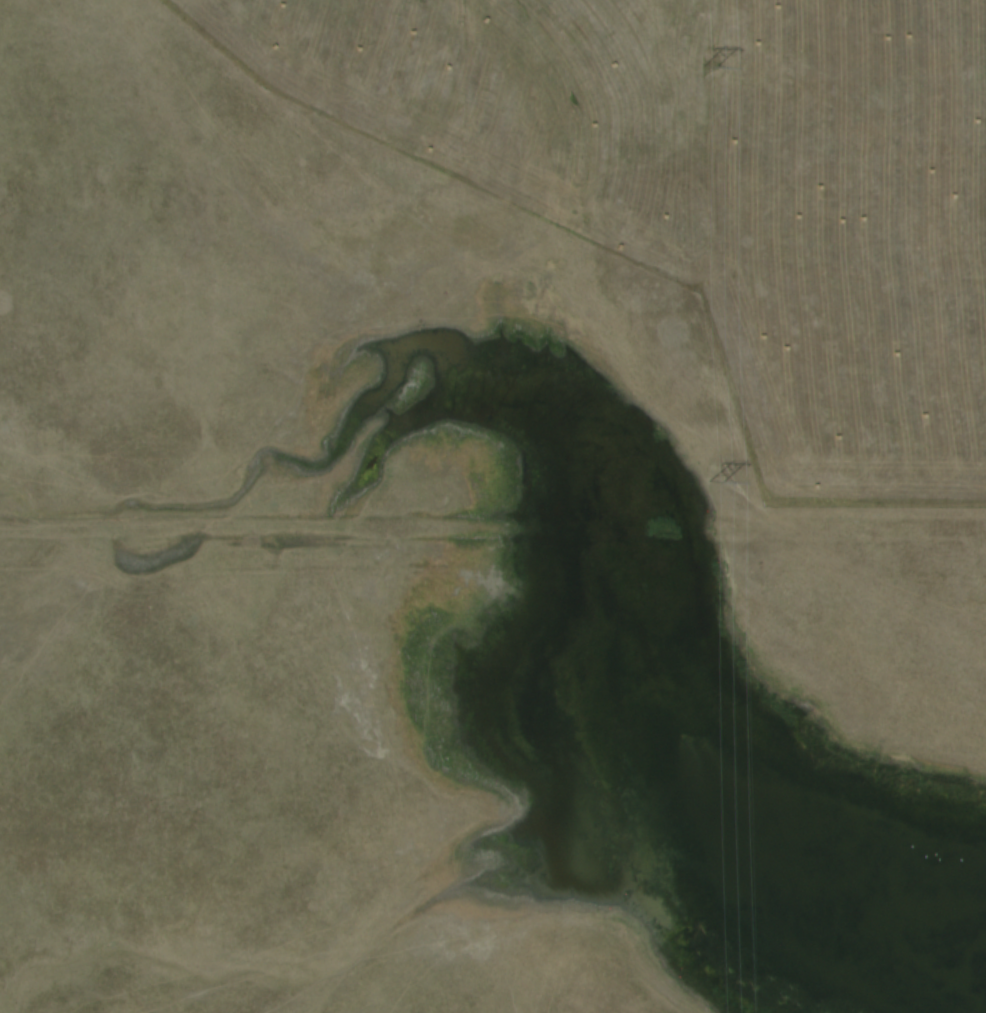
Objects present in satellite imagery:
power tower: (704, 69)
power tower: (711, 482)

